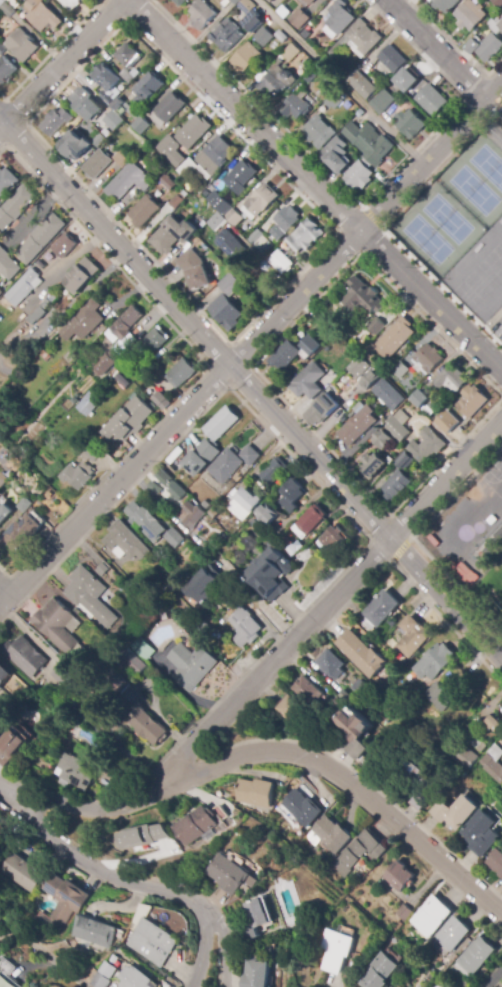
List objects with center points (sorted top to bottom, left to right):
building: (7, 0)
building: (236, 1)
building: (271, 1)
building: (1, 2)
building: (180, 2)
building: (309, 2)
building: (499, 2)
building: (71, 4)
building: (447, 4)
building: (491, 4)
building: (246, 6)
building: (8, 10)
building: (202, 14)
building: (470, 15)
building: (44, 17)
building: (340, 17)
building: (299, 19)
building: (253, 23)
building: (497, 24)
building: (224, 32)
building: (305, 34)
building: (282, 36)
building: (264, 37)
building: (357, 39)
building: (22, 45)
road: (456, 45)
building: (486, 47)
road: (436, 48)
building: (2, 50)
building: (290, 53)
building: (128, 54)
building: (246, 58)
building: (392, 59)
road: (64, 61)
building: (6, 70)
building: (378, 70)
building: (135, 73)
building: (127, 76)
building: (310, 76)
building: (276, 80)
building: (406, 80)
building: (107, 82)
road: (339, 82)
building: (363, 87)
building: (147, 89)
building: (85, 100)
building: (430, 100)
building: (333, 101)
building: (383, 102)
building: (117, 104)
building: (170, 107)
building: (295, 107)
building: (131, 111)
road: (2, 120)
building: (56, 121)
building: (114, 121)
building: (410, 123)
road: (2, 125)
building: (141, 125)
building: (316, 131)
building: (193, 132)
building: (108, 133)
building: (496, 133)
building: (99, 138)
building: (369, 143)
building: (76, 145)
building: (164, 145)
building: (170, 154)
building: (336, 154)
building: (214, 155)
building: (122, 158)
building: (97, 164)
building: (187, 169)
building: (242, 176)
building: (359, 176)
building: (7, 180)
building: (128, 181)
building: (168, 183)
road: (314, 185)
building: (200, 190)
building: (158, 194)
building: (262, 200)
building: (176, 201)
building: (219, 203)
park: (456, 203)
road: (359, 205)
building: (15, 207)
building: (145, 211)
building: (234, 217)
road: (372, 217)
building: (216, 221)
building: (285, 223)
road: (366, 225)
road: (384, 226)
building: (308, 234)
building: (169, 235)
building: (255, 238)
building: (40, 239)
building: (294, 244)
road: (117, 245)
building: (64, 246)
building: (267, 247)
building: (234, 250)
building: (284, 261)
building: (39, 262)
building: (7, 265)
building: (195, 269)
building: (81, 276)
building: (231, 285)
building: (24, 287)
building: (1, 292)
building: (363, 297)
building: (52, 298)
building: (46, 303)
building: (226, 312)
building: (39, 314)
parking lot: (497, 314)
building: (31, 320)
building: (84, 320)
building: (127, 322)
building: (377, 326)
building: (327, 328)
building: (103, 338)
building: (395, 338)
building: (155, 340)
building: (310, 345)
building: (370, 352)
building: (46, 355)
building: (285, 355)
building: (68, 357)
building: (429, 358)
building: (105, 363)
building: (147, 365)
building: (359, 367)
road: (254, 370)
building: (400, 370)
building: (181, 373)
building: (373, 378)
building: (122, 380)
building: (451, 380)
building: (308, 381)
building: (408, 393)
building: (78, 394)
building: (389, 395)
building: (134, 396)
road: (501, 396)
building: (421, 398)
building: (74, 399)
building: (473, 402)
building: (163, 403)
building: (89, 405)
building: (325, 406)
building: (428, 411)
building: (129, 421)
building: (222, 422)
building: (448, 422)
building: (358, 424)
building: (398, 426)
building: (28, 428)
building: (12, 432)
building: (0, 437)
building: (383, 439)
building: (426, 446)
building: (92, 453)
building: (200, 456)
building: (404, 460)
building: (231, 463)
building: (374, 467)
building: (273, 471)
building: (78, 475)
building: (165, 478)
building: (3, 479)
road: (119, 481)
building: (396, 485)
building: (155, 488)
building: (177, 491)
building: (49, 494)
building: (290, 495)
building: (245, 501)
building: (170, 503)
building: (206, 503)
building: (24, 505)
building: (4, 512)
building: (214, 513)
road: (365, 514)
building: (193, 515)
building: (267, 515)
building: (311, 519)
building: (147, 521)
building: (255, 525)
building: (14, 537)
building: (174, 538)
building: (334, 538)
road: (414, 538)
building: (126, 541)
building: (271, 541)
road: (400, 549)
building: (463, 572)
building: (271, 574)
park: (493, 577)
building: (203, 586)
road: (4, 590)
building: (228, 595)
building: (90, 596)
road: (4, 599)
road: (330, 600)
road: (260, 602)
building: (381, 608)
building: (212, 612)
road: (445, 622)
building: (244, 623)
building: (56, 625)
building: (412, 636)
building: (143, 648)
building: (360, 653)
building: (25, 656)
building: (433, 662)
building: (135, 663)
building: (330, 664)
building: (191, 665)
building: (63, 673)
building: (4, 675)
building: (119, 685)
building: (358, 687)
building: (308, 692)
building: (433, 692)
building: (345, 698)
building: (442, 702)
building: (337, 704)
building: (77, 706)
building: (289, 708)
building: (494, 723)
building: (147, 726)
building: (355, 733)
building: (478, 745)
building: (10, 746)
road: (273, 751)
building: (80, 754)
building: (460, 754)
building: (494, 763)
building: (75, 771)
building: (416, 784)
building: (217, 791)
building: (257, 793)
building: (303, 808)
building: (455, 812)
building: (196, 825)
building: (331, 833)
building: (481, 833)
building: (297, 834)
building: (142, 836)
building: (174, 851)
building: (359, 852)
building: (495, 862)
road: (88, 865)
building: (20, 873)
building: (230, 875)
building: (399, 876)
building: (62, 900)
building: (403, 912)
building: (431, 916)
building: (254, 919)
building: (95, 932)
building: (128, 934)
building: (453, 934)
road: (223, 940)
building: (151, 942)
road: (203, 945)
building: (334, 950)
building: (476, 956)
road: (55, 965)
building: (5, 966)
building: (454, 969)
building: (378, 971)
building: (254, 974)
road: (492, 976)
building: (136, 978)
building: (101, 981)
building: (5, 982)
building: (469, 982)
building: (419, 986)

